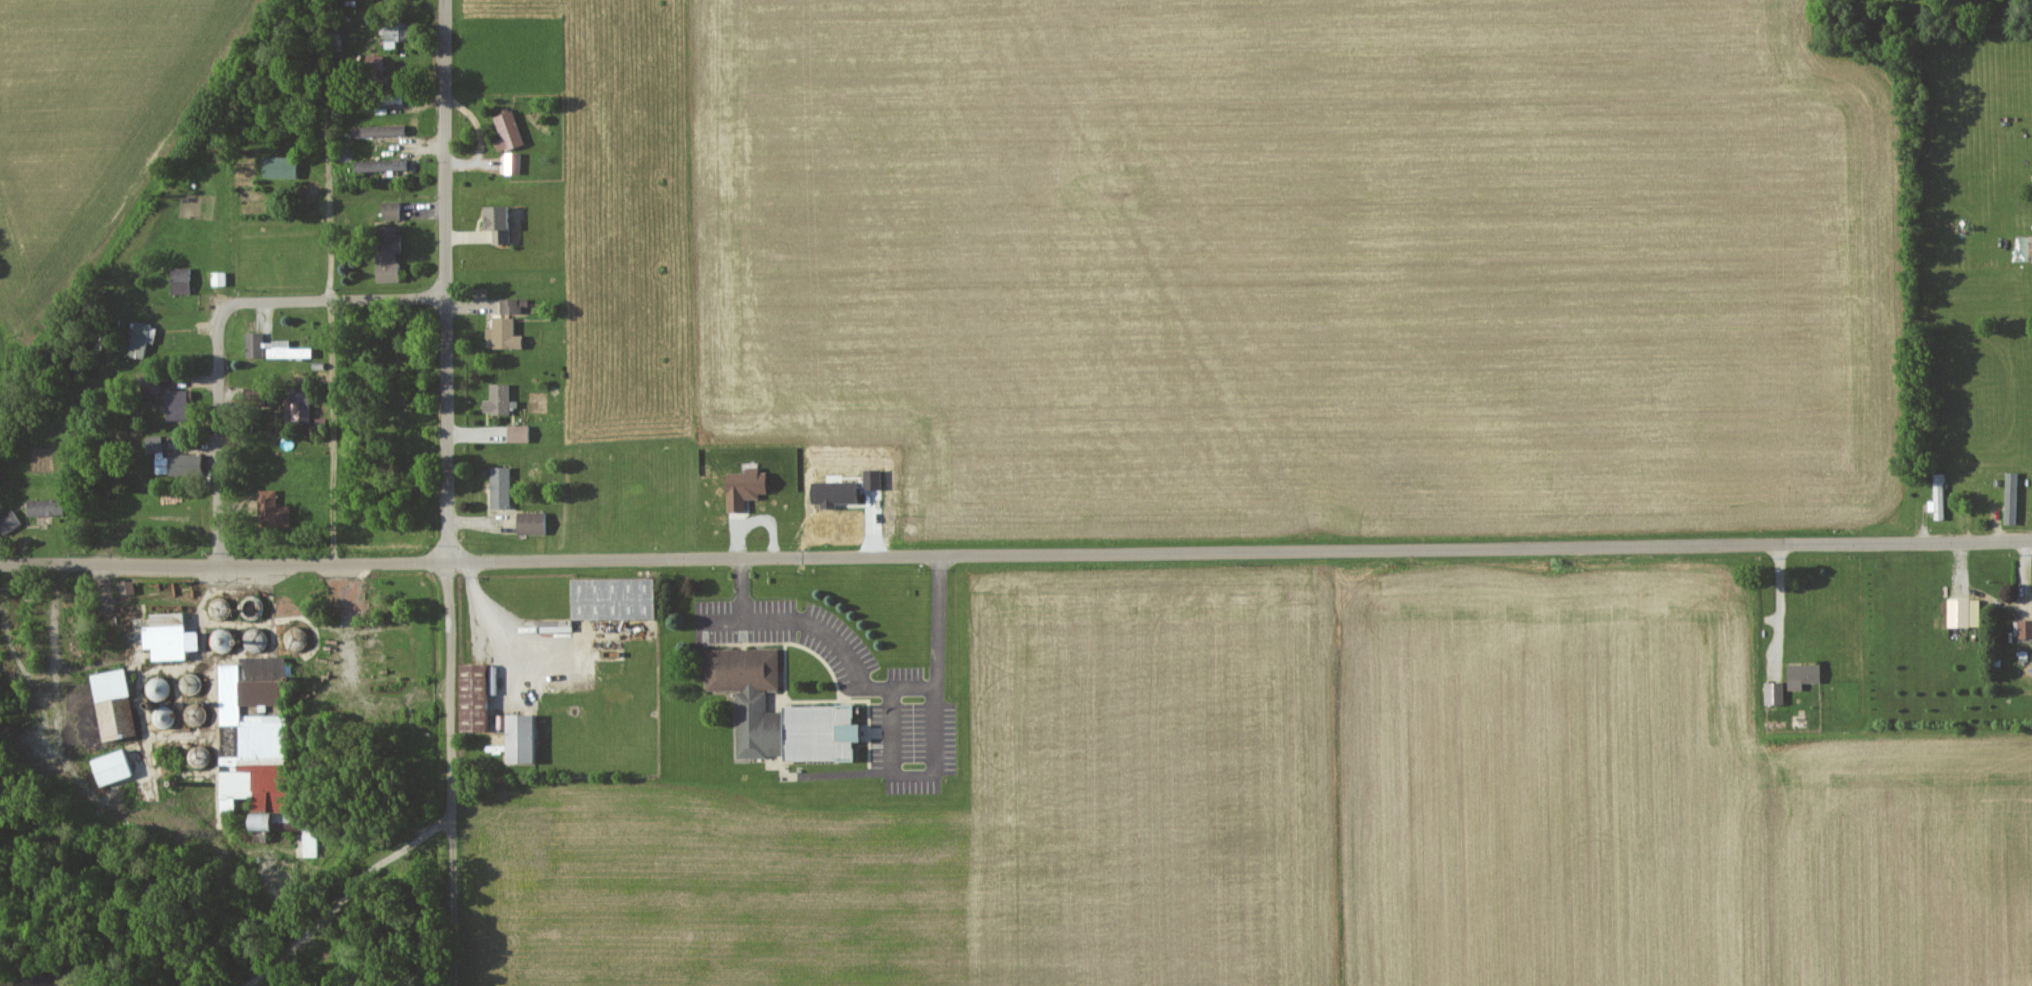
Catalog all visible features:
building: (393, 34)
building: (371, 61)
building: (375, 131)
building: (505, 131)
road: (322, 139)
building: (509, 163)
building: (378, 165)
building: (277, 167)
building: (389, 210)
building: (494, 223)
building: (2031, 248)
building: (385, 254)
building: (218, 278)
building: (178, 280)
building: (510, 305)
road: (212, 326)
building: (502, 334)
building: (137, 340)
building: (253, 345)
building: (286, 350)
building: (148, 386)
building: (495, 400)
building: (173, 405)
building: (295, 412)
building: (516, 433)
road: (327, 440)
building: (171, 460)
building: (498, 487)
building: (743, 487)
road: (444, 492)
building: (1938, 496)
building: (2009, 497)
building: (39, 507)
building: (270, 510)
building: (10, 521)
building: (531, 523)
road: (141, 527)
road: (1238, 550)
road: (222, 571)
road: (741, 590)
building: (609, 597)
road: (1779, 608)
building: (1962, 612)
road: (486, 624)
building: (2022, 628)
building: (166, 636)
building: (253, 639)
building: (1801, 674)
road: (351, 680)
road: (868, 687)
building: (156, 688)
building: (1773, 692)
building: (470, 696)
building: (749, 697)
building: (106, 700)
building: (160, 715)
building: (516, 737)
building: (242, 748)
building: (110, 766)
road: (914, 774)
building: (250, 820)
building: (307, 842)

